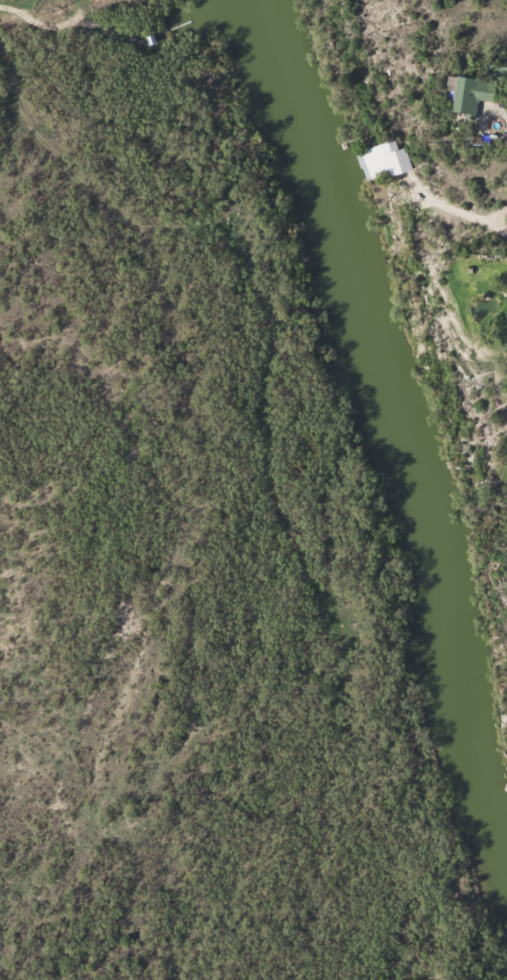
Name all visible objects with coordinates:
building: (463, 98)
building: (383, 161)
river: (340, 241)
river: (451, 665)

